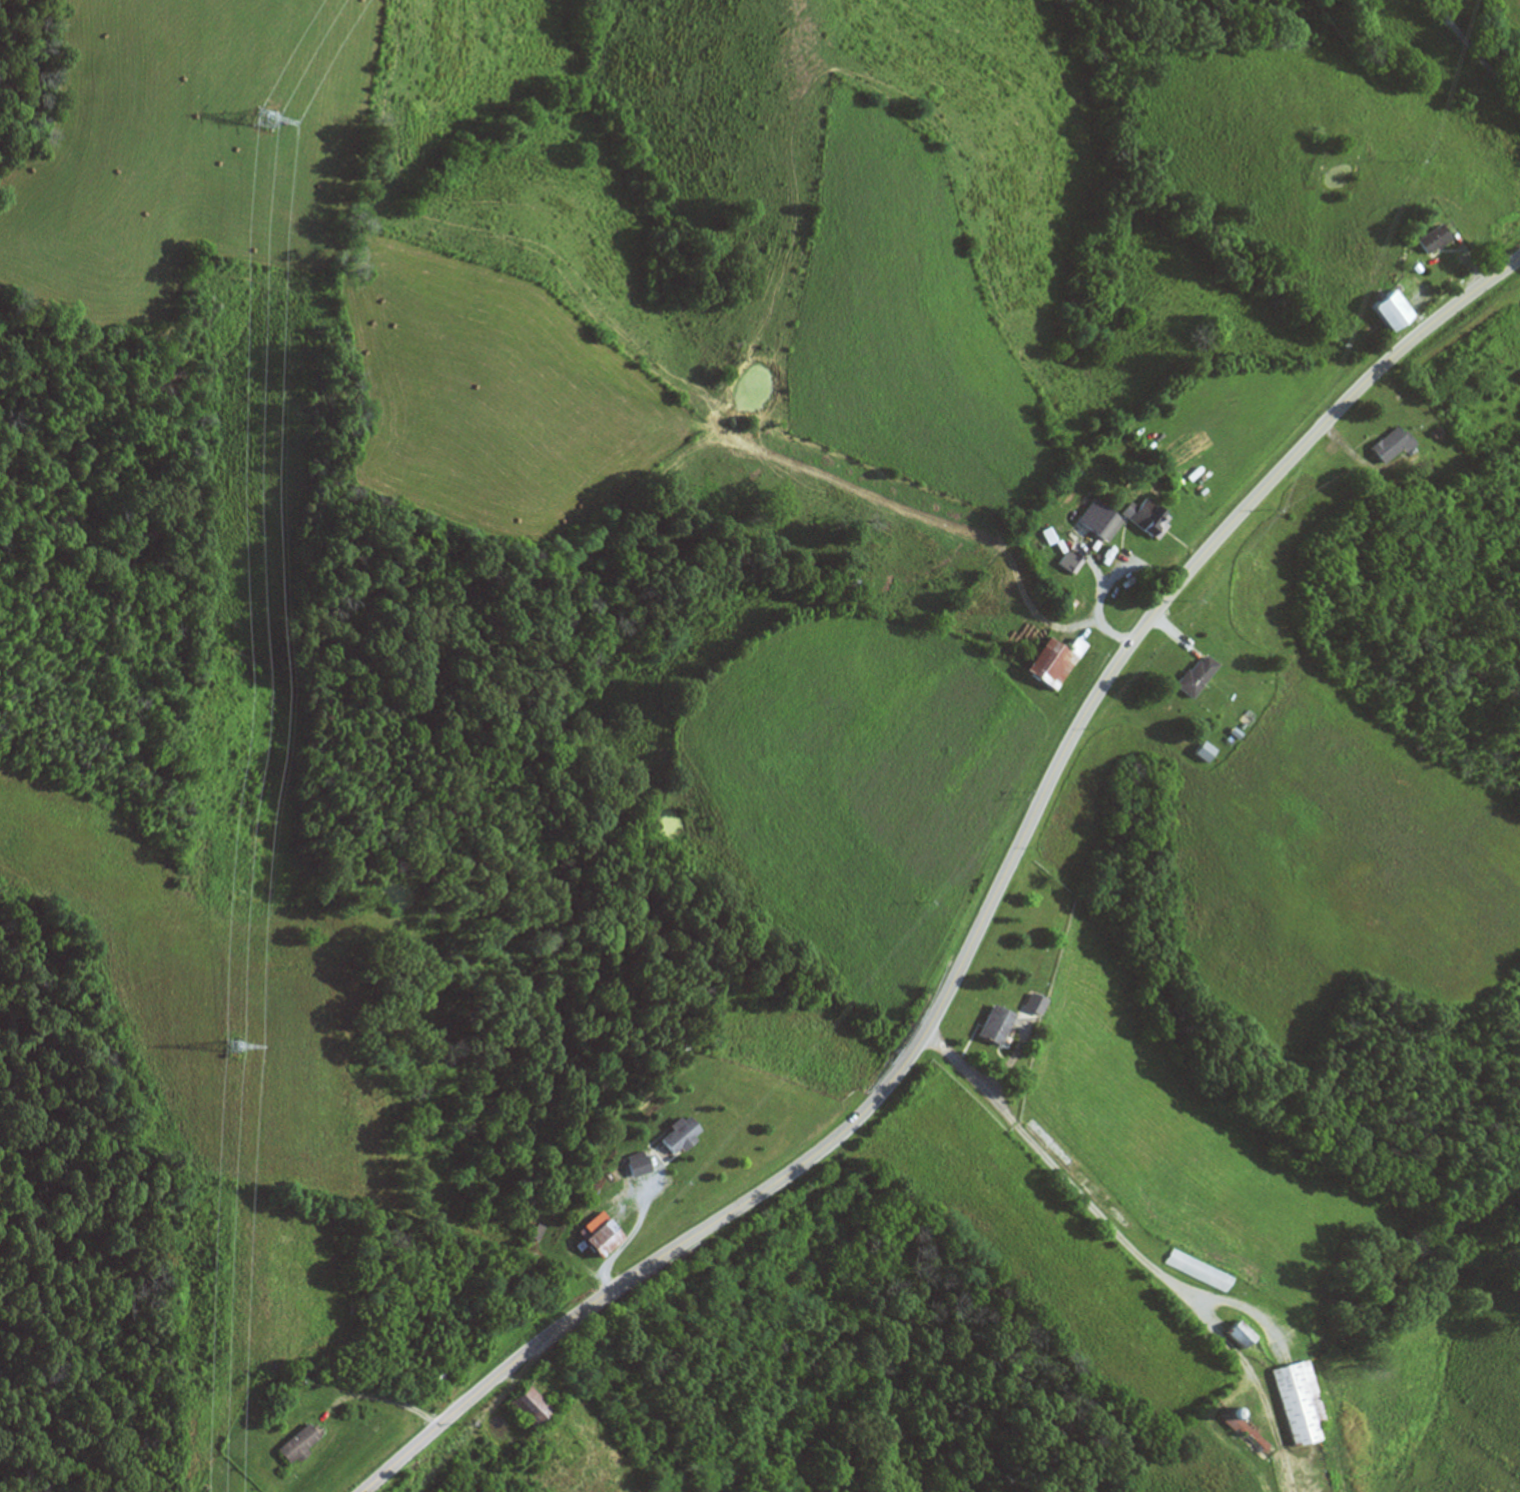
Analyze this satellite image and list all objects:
power tower: (267, 115)
building: (1435, 240)
building: (1395, 313)
building: (1395, 445)
building: (1174, 466)
building: (1148, 516)
building: (1107, 524)
building: (1057, 660)
building: (1200, 675)
road: (985, 917)
building: (999, 1024)
power tower: (231, 1044)
building: (681, 1135)
building: (639, 1164)
building: (605, 1234)
railway: (1425, 1236)
building: (1198, 1270)
building: (1241, 1335)
building: (436, 1376)
building: (1299, 1402)
building: (533, 1406)
building: (300, 1444)
railway: (1093, 1469)

